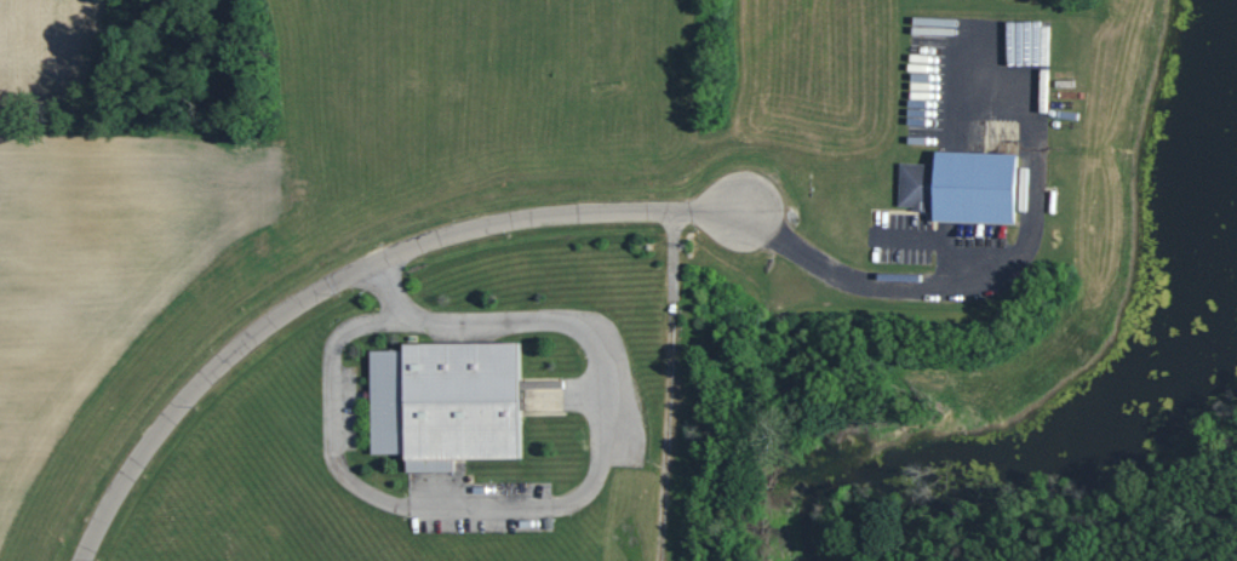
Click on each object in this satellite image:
building: (924, 25)
building: (958, 187)
road: (476, 223)
building: (454, 402)
road: (569, 502)

